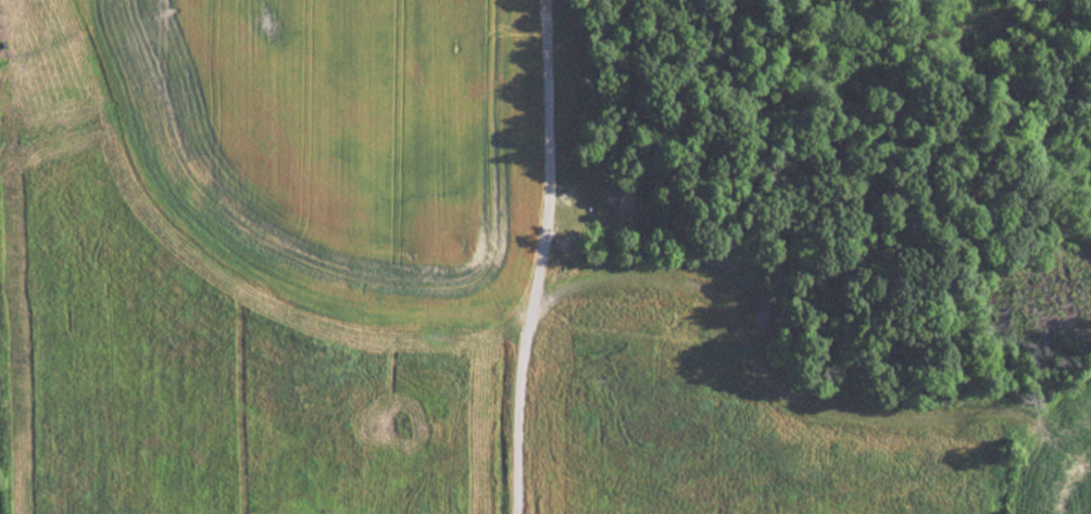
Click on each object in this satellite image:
road: (537, 256)

